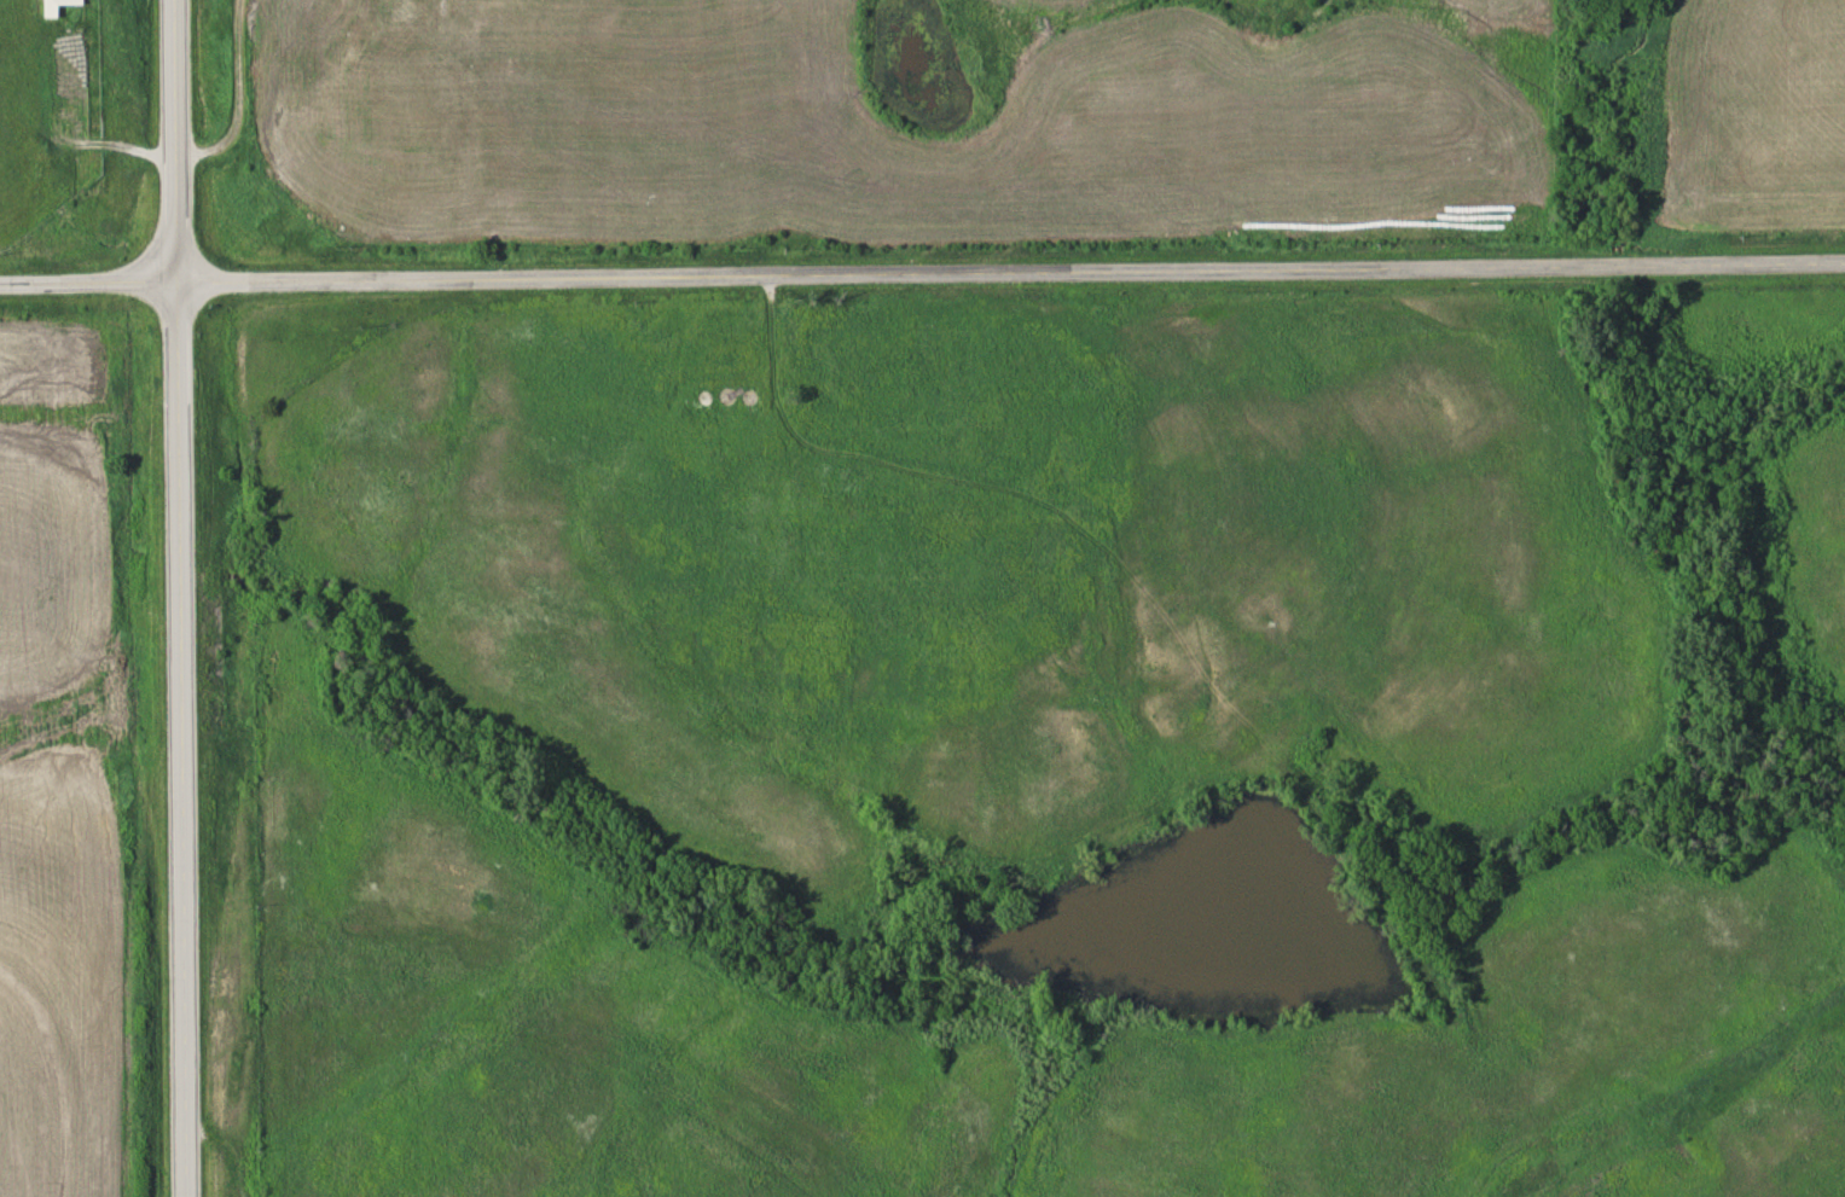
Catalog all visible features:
building: (47, 10)
road: (922, 272)
road: (179, 598)

